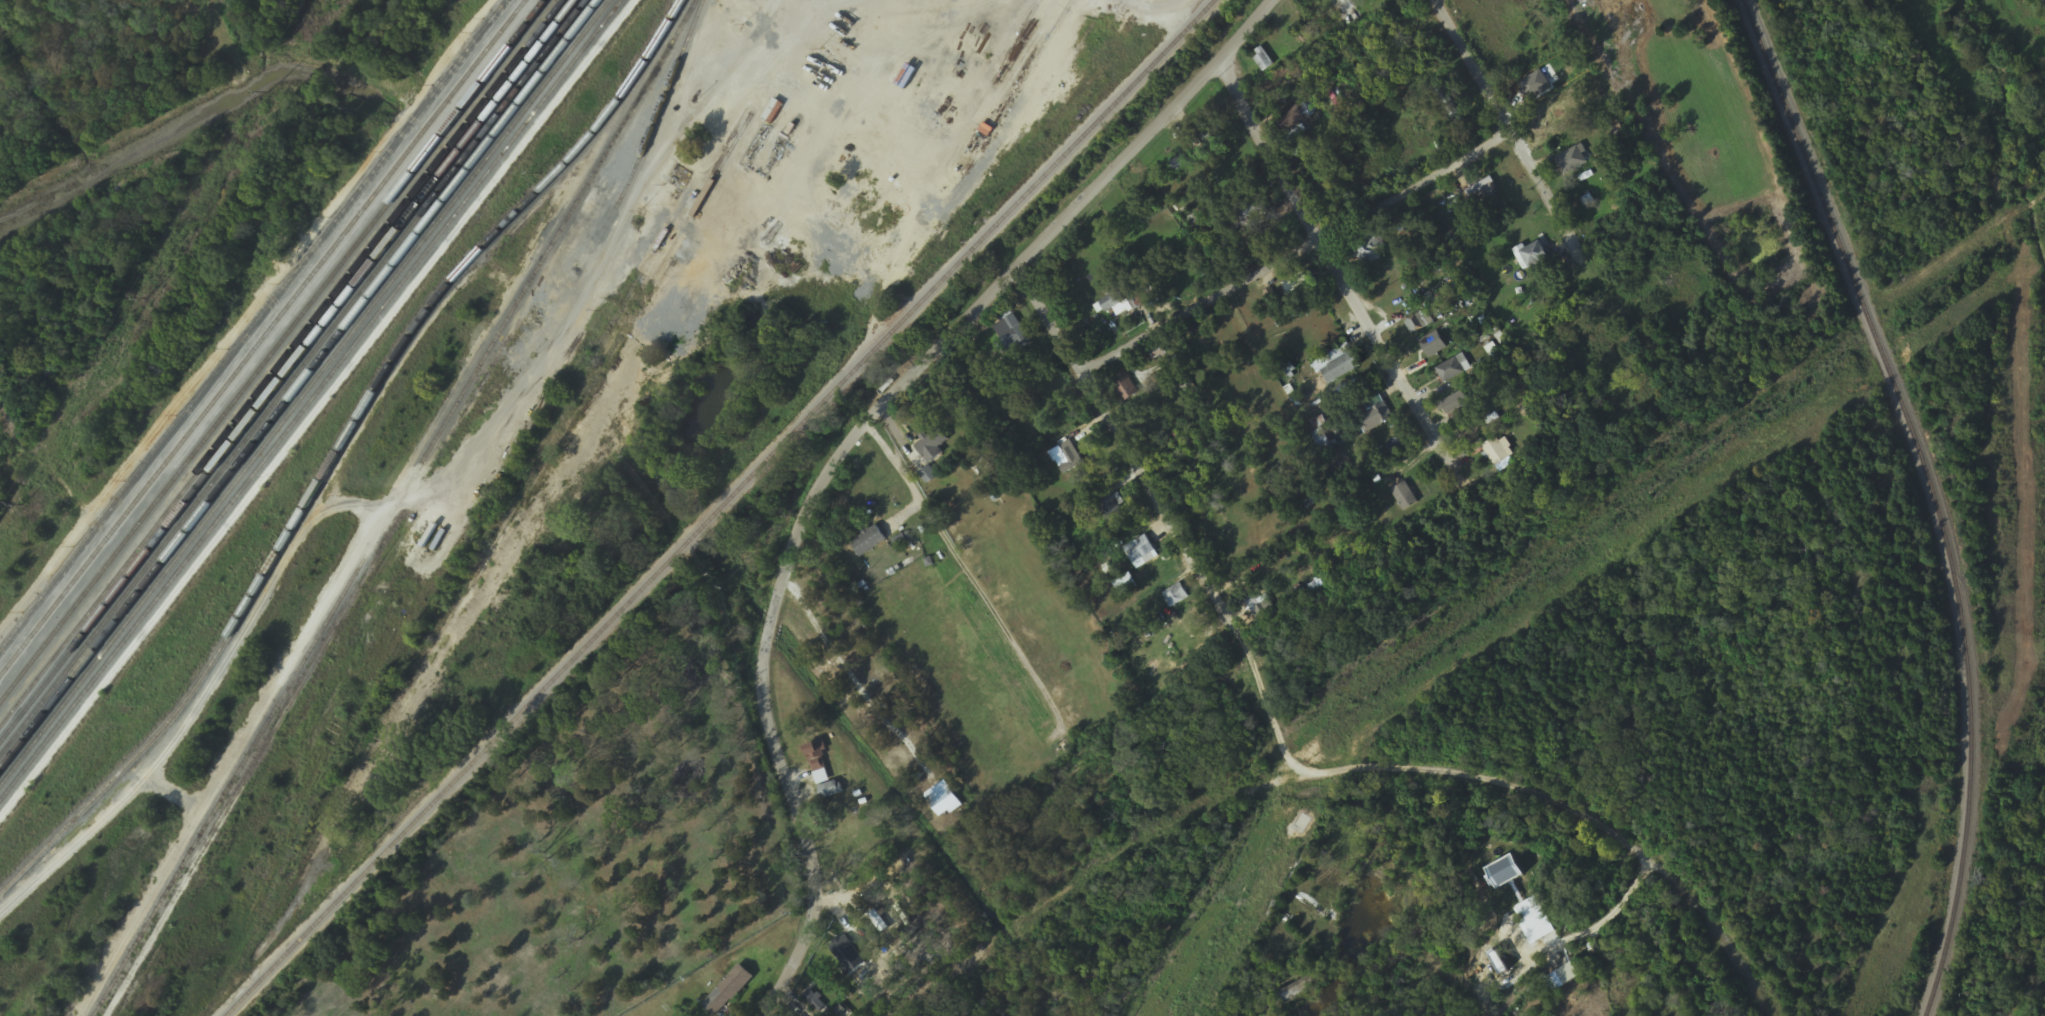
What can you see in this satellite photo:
road: (1155, 10)
power tower: (266, 92)
building: (1448, 104)
building: (773, 113)
building: (1293, 119)
railway: (652, 131)
building: (1212, 136)
road: (1513, 144)
building: (1573, 160)
building: (1248, 213)
building: (1367, 248)
road: (1295, 252)
building: (1534, 258)
building: (1134, 275)
road: (1336, 277)
building: (1146, 297)
power tower: (145, 299)
building: (1115, 305)
railway: (254, 326)
building: (1009, 335)
railway: (265, 340)
railway: (274, 352)
railway: (282, 365)
building: (1338, 368)
building: (1453, 369)
building: (1125, 388)
building: (1454, 404)
building: (1372, 421)
road: (850, 440)
building: (932, 445)
railway: (341, 447)
road: (1125, 448)
building: (1497, 454)
building: (1065, 457)
building: (986, 463)
railway: (1931, 486)
road: (443, 489)
building: (1405, 497)
power tower: (22, 507)
railway: (394, 507)
building: (1111, 508)
railway: (725, 513)
building: (903, 541)
building: (868, 542)
building: (1140, 550)
road: (974, 571)
building: (1176, 596)
building: (1265, 612)
railway: (1464, 622)
railway: (1383, 766)
building: (830, 791)
building: (1507, 873)
railway: (1988, 878)
building: (842, 948)
building: (1301, 988)
building: (728, 991)
railway: (1928, 1008)

